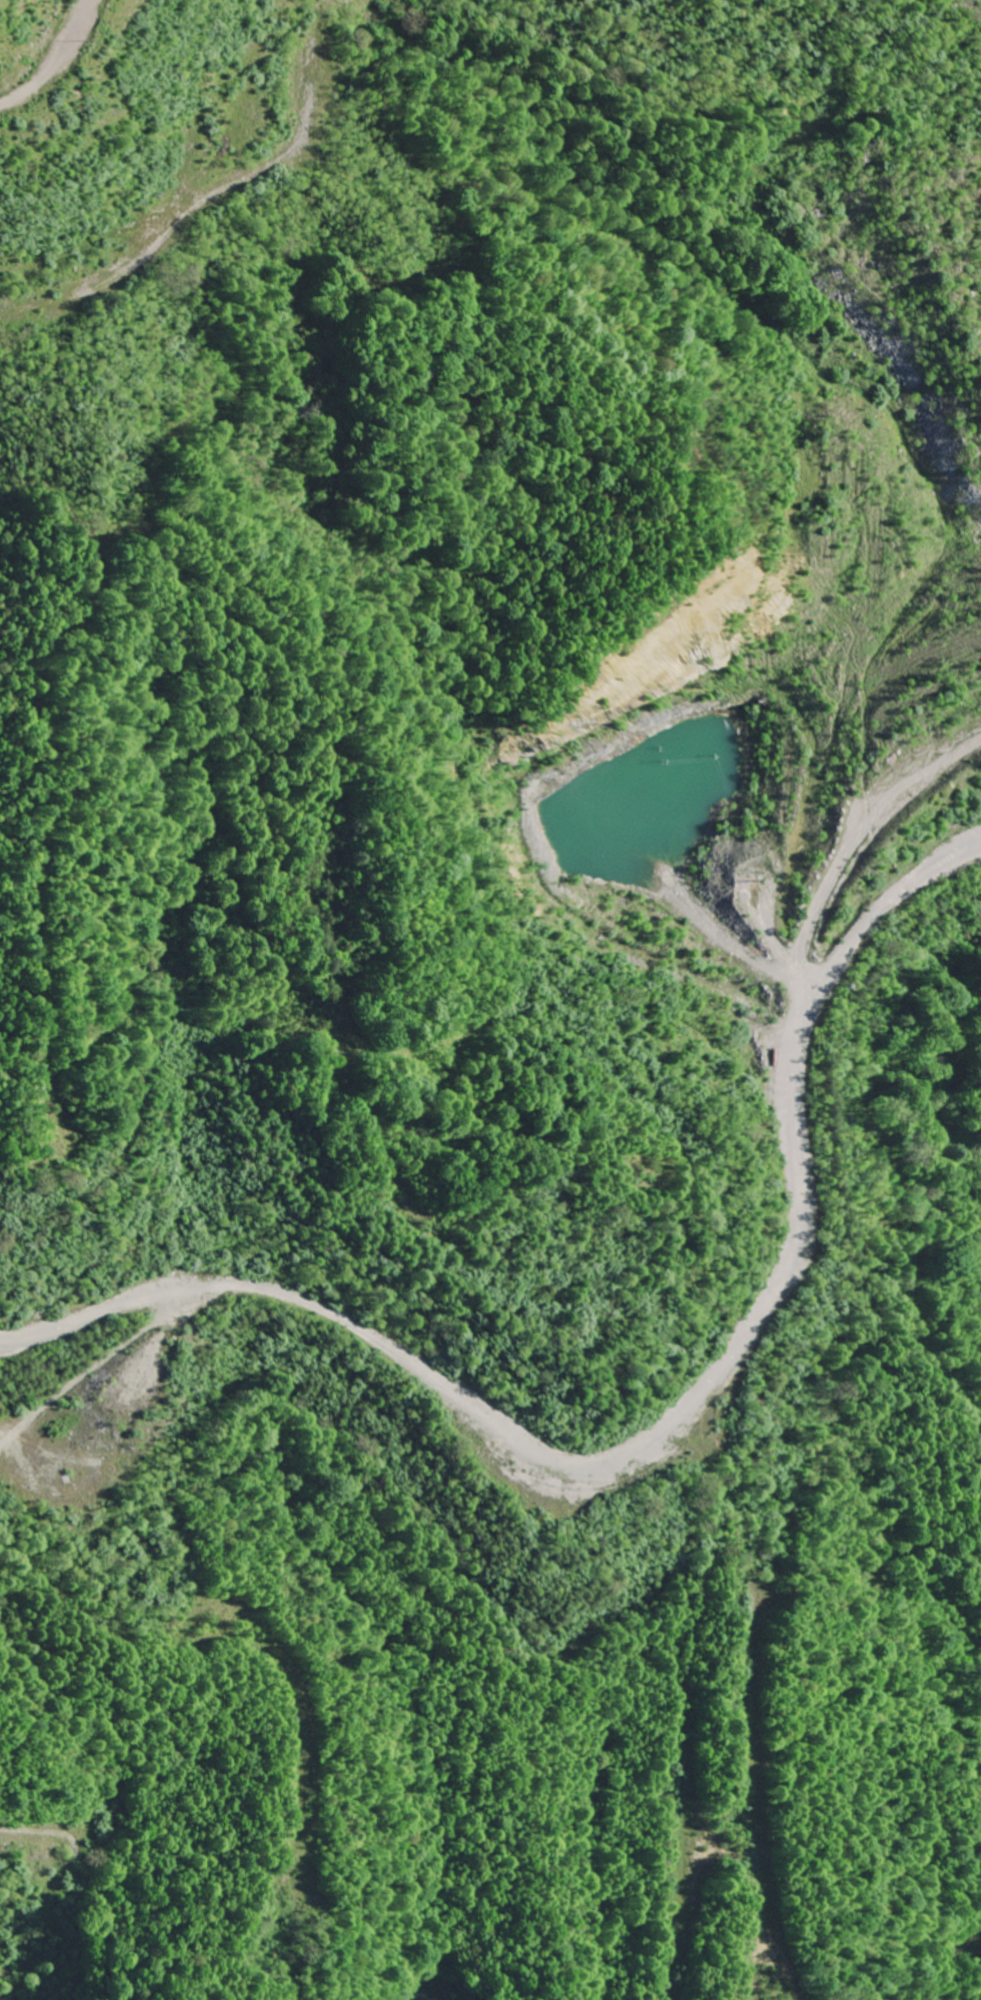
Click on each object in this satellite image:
road: (824, 898)
road: (908, 1313)
road: (658, 1440)

